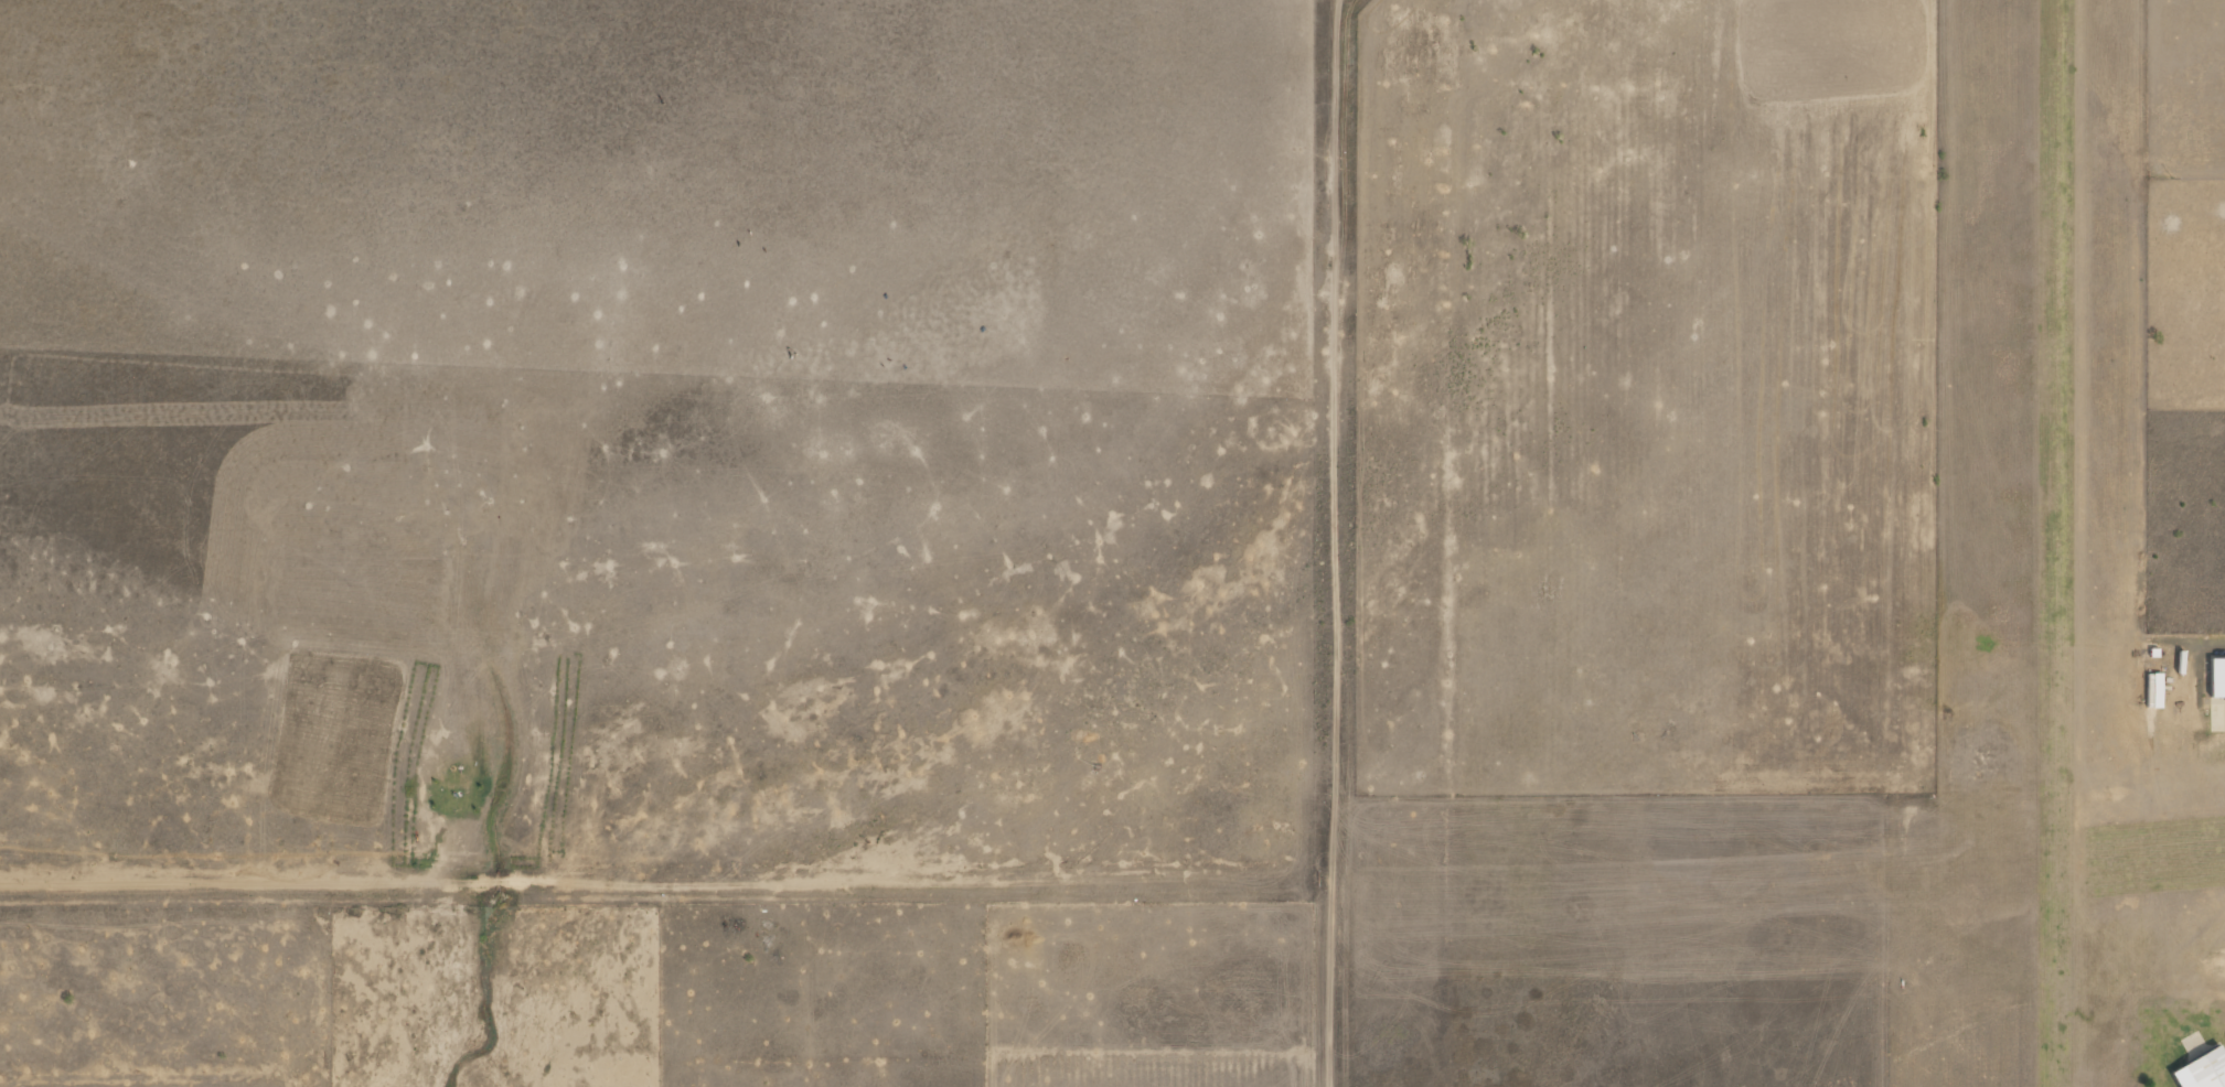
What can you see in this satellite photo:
airport runway: (2054, 543)
airport: (2076, 557)
building: (2216, 678)
building: (2153, 690)
building: (2201, 1070)

